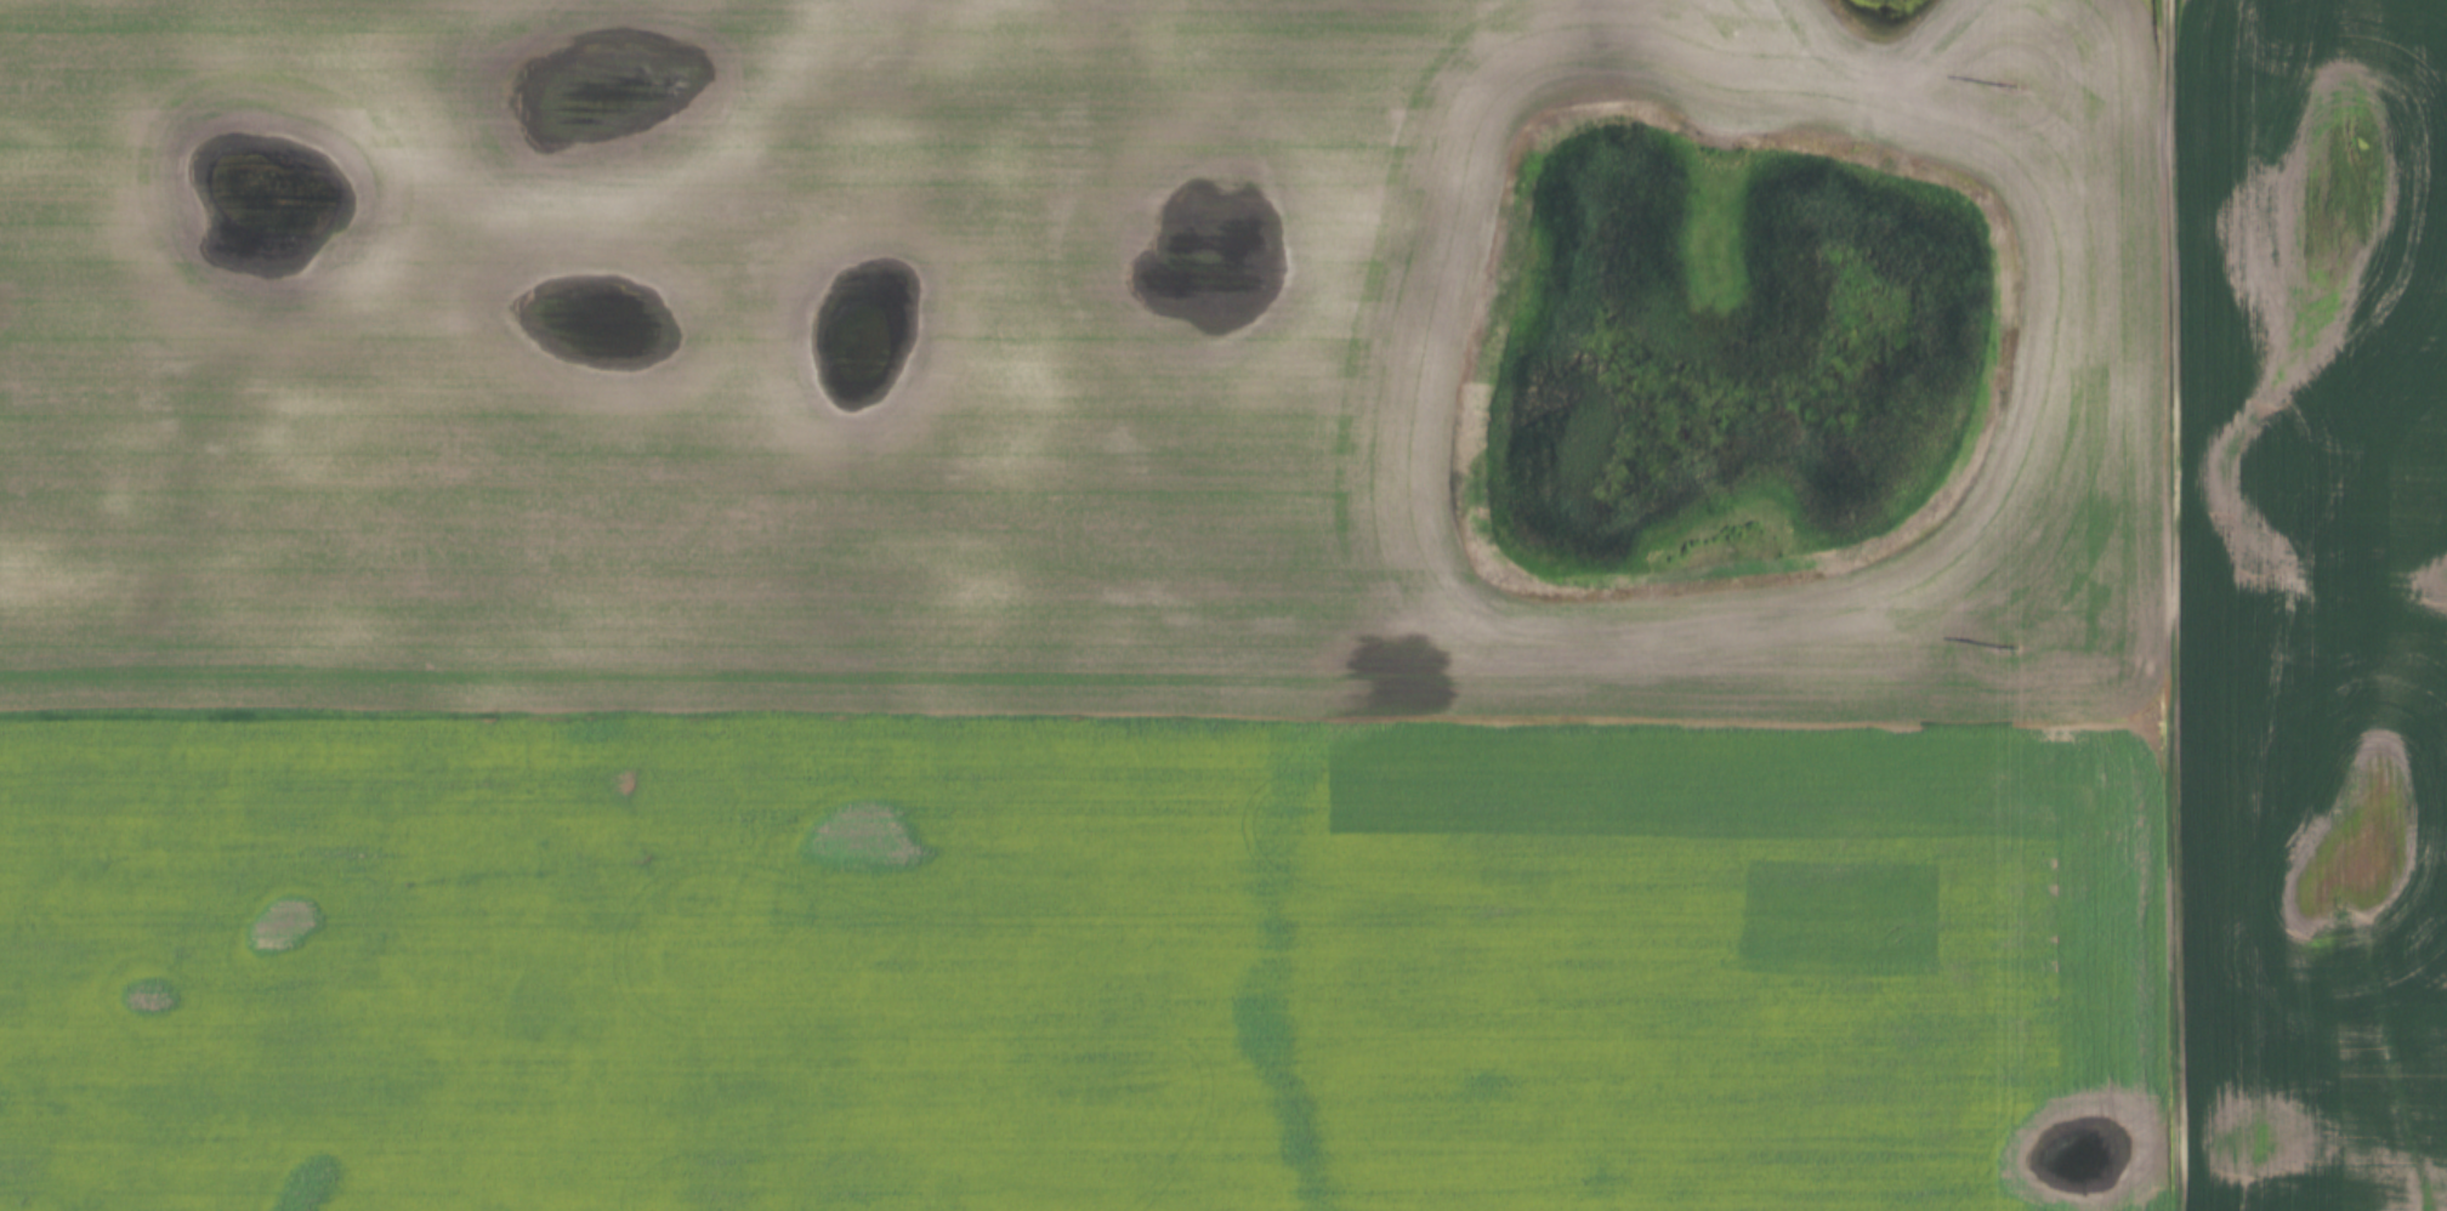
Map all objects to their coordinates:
road: (2173, 605)

